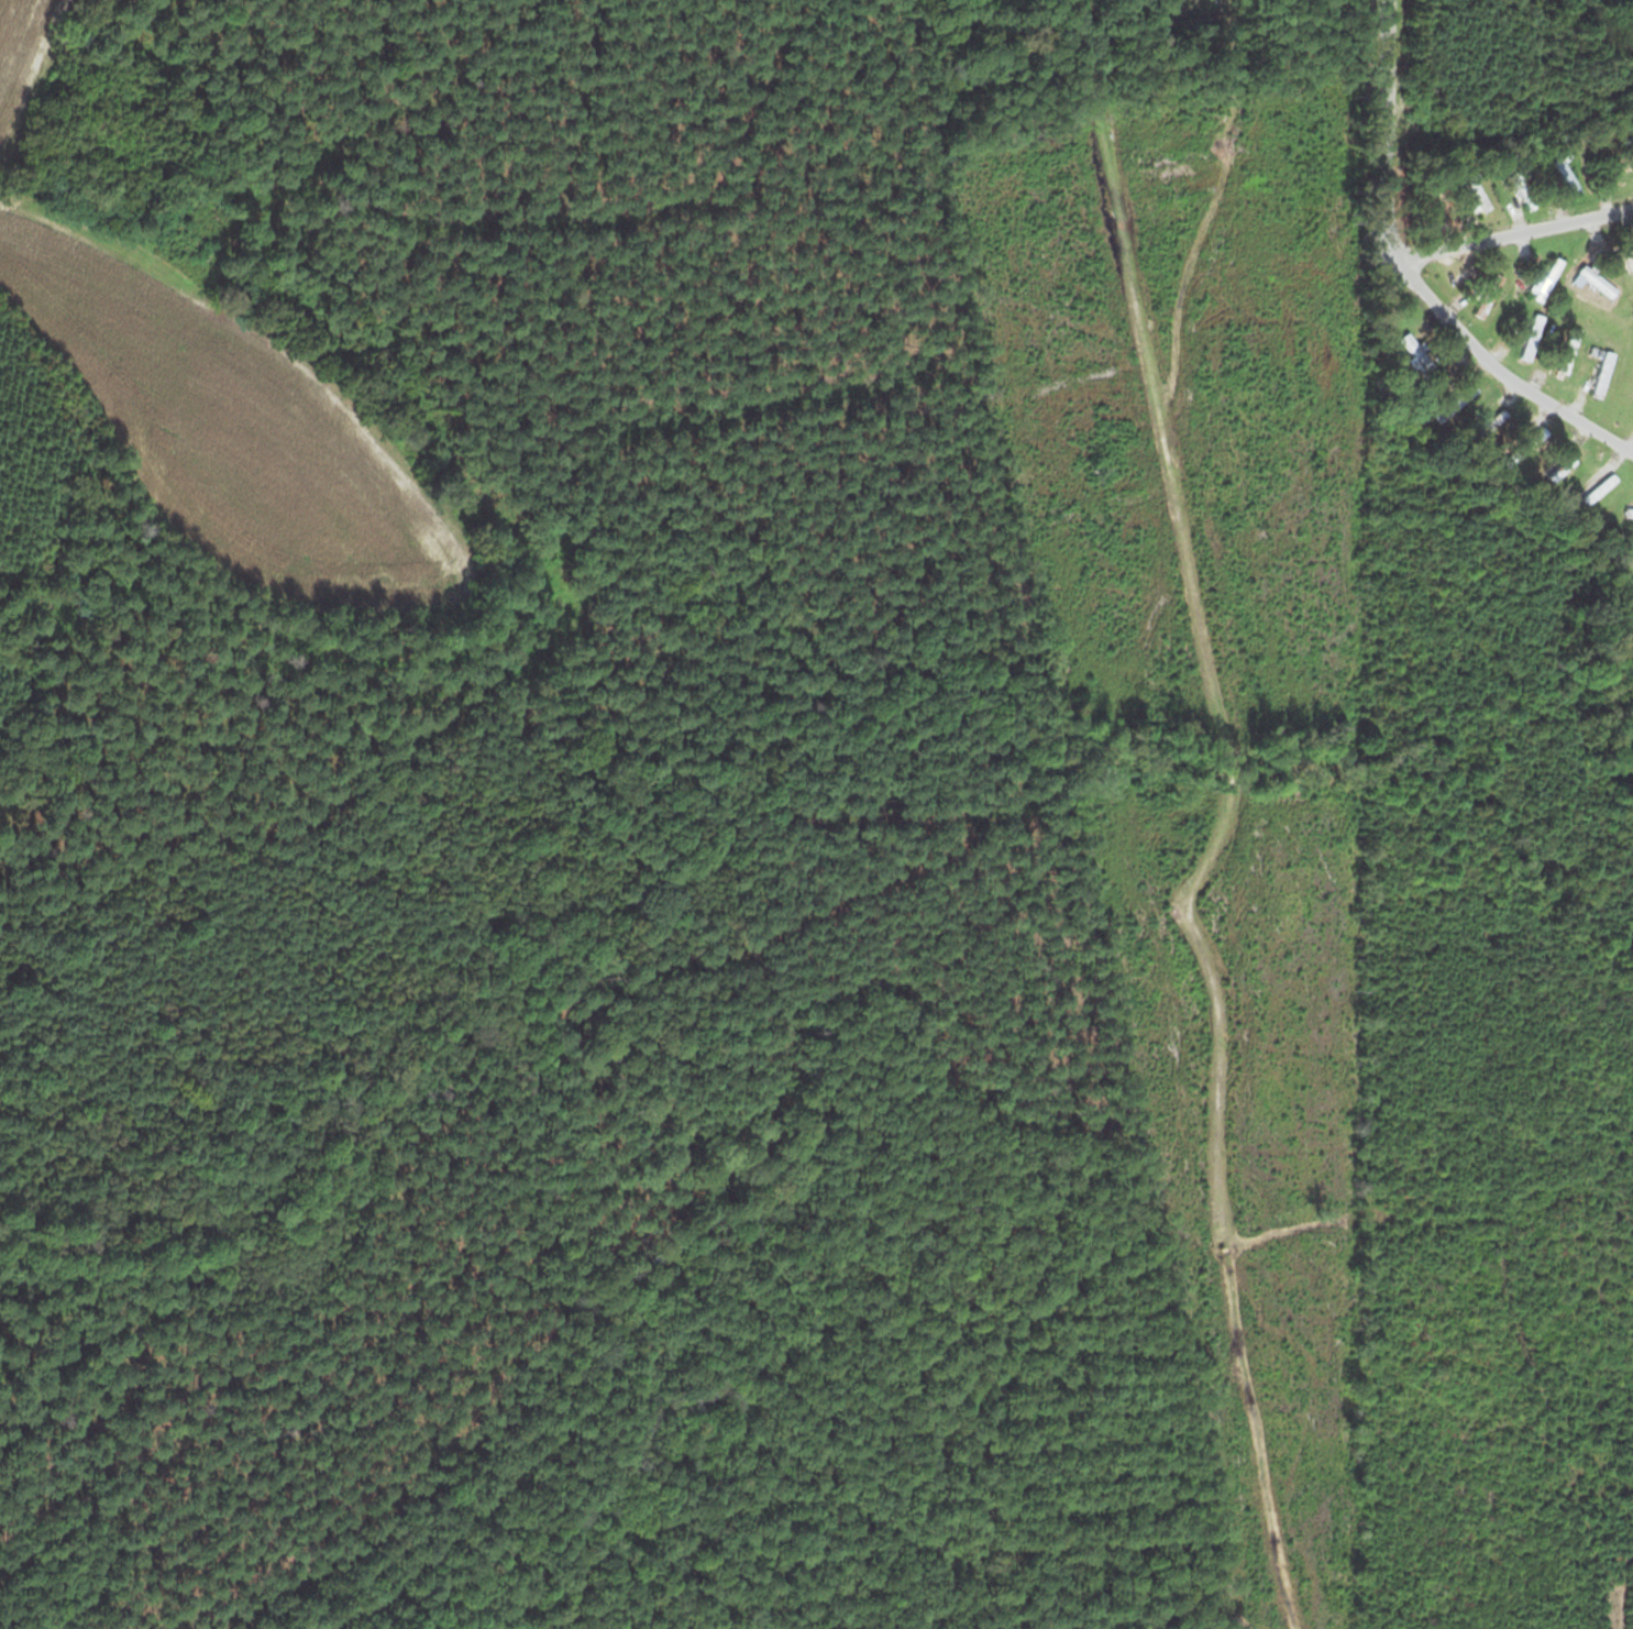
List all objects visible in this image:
road: (1106, 35)
building: (1563, 174)
building: (1520, 187)
road: (1512, 233)
building: (1545, 277)
building: (1593, 278)
road: (1406, 279)
building: (1485, 294)
building: (1527, 335)
building: (1414, 349)
building: (1564, 352)
building: (1599, 373)
building: (1520, 445)
building: (1558, 467)
building: (1596, 487)
building: (1626, 511)
building: (1632, 548)

